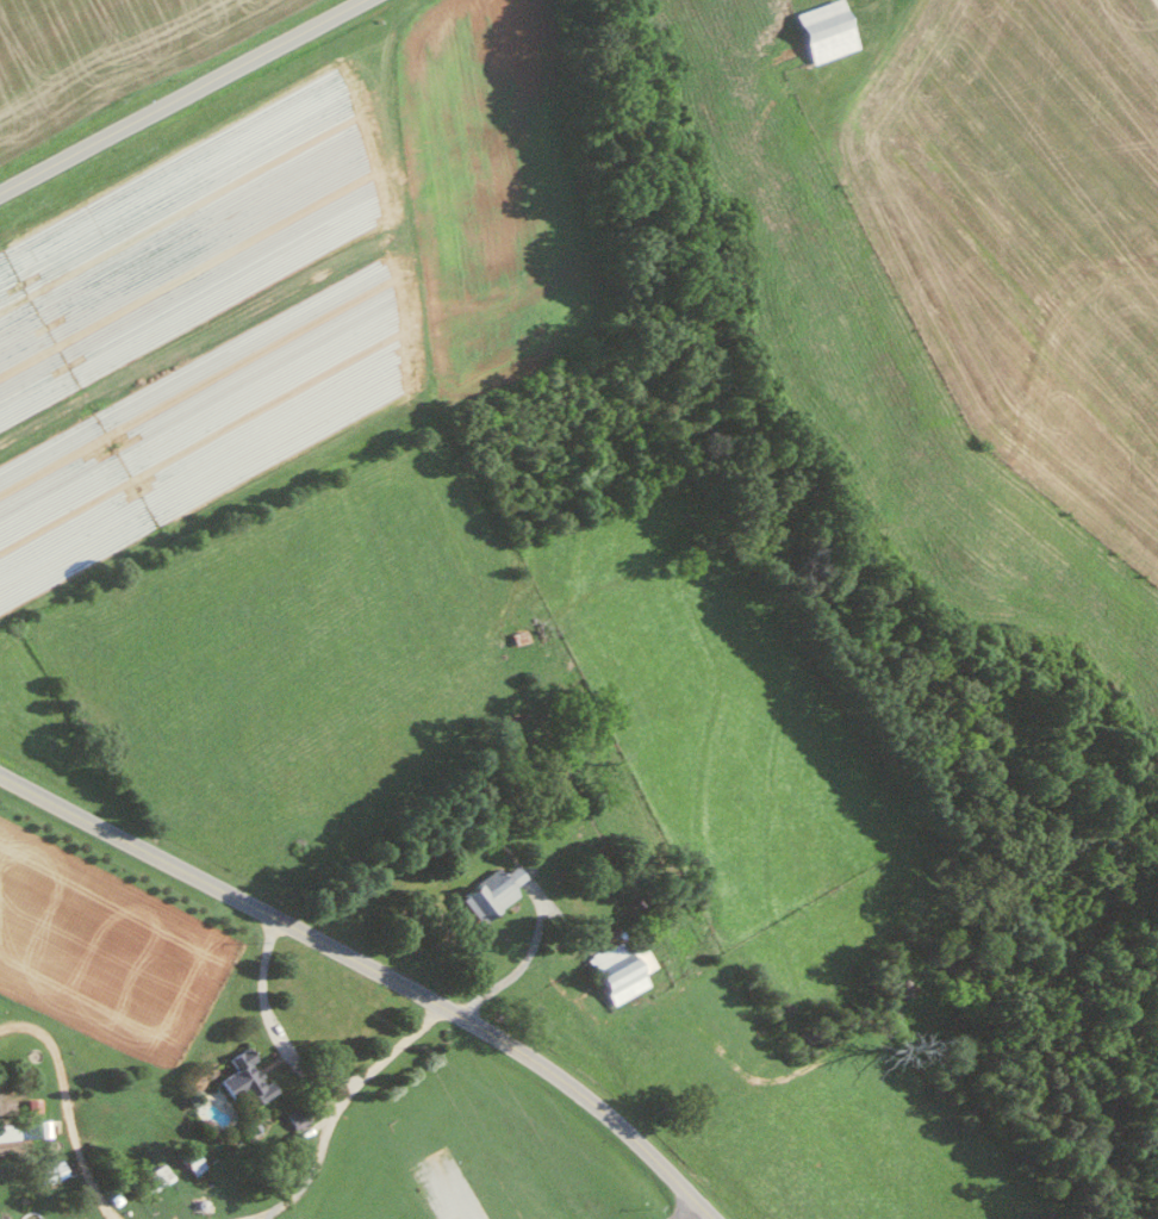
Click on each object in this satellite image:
building: (822, 29)
road: (180, 94)
crop: (959, 296)
building: (511, 873)
building: (484, 895)
building: (665, 943)
road: (519, 962)
road: (373, 968)
building: (617, 969)
road: (266, 1021)
building: (242, 1077)
road: (332, 1109)
building: (188, 1159)
building: (49, 1171)
building: (150, 1178)
road: (677, 1208)

